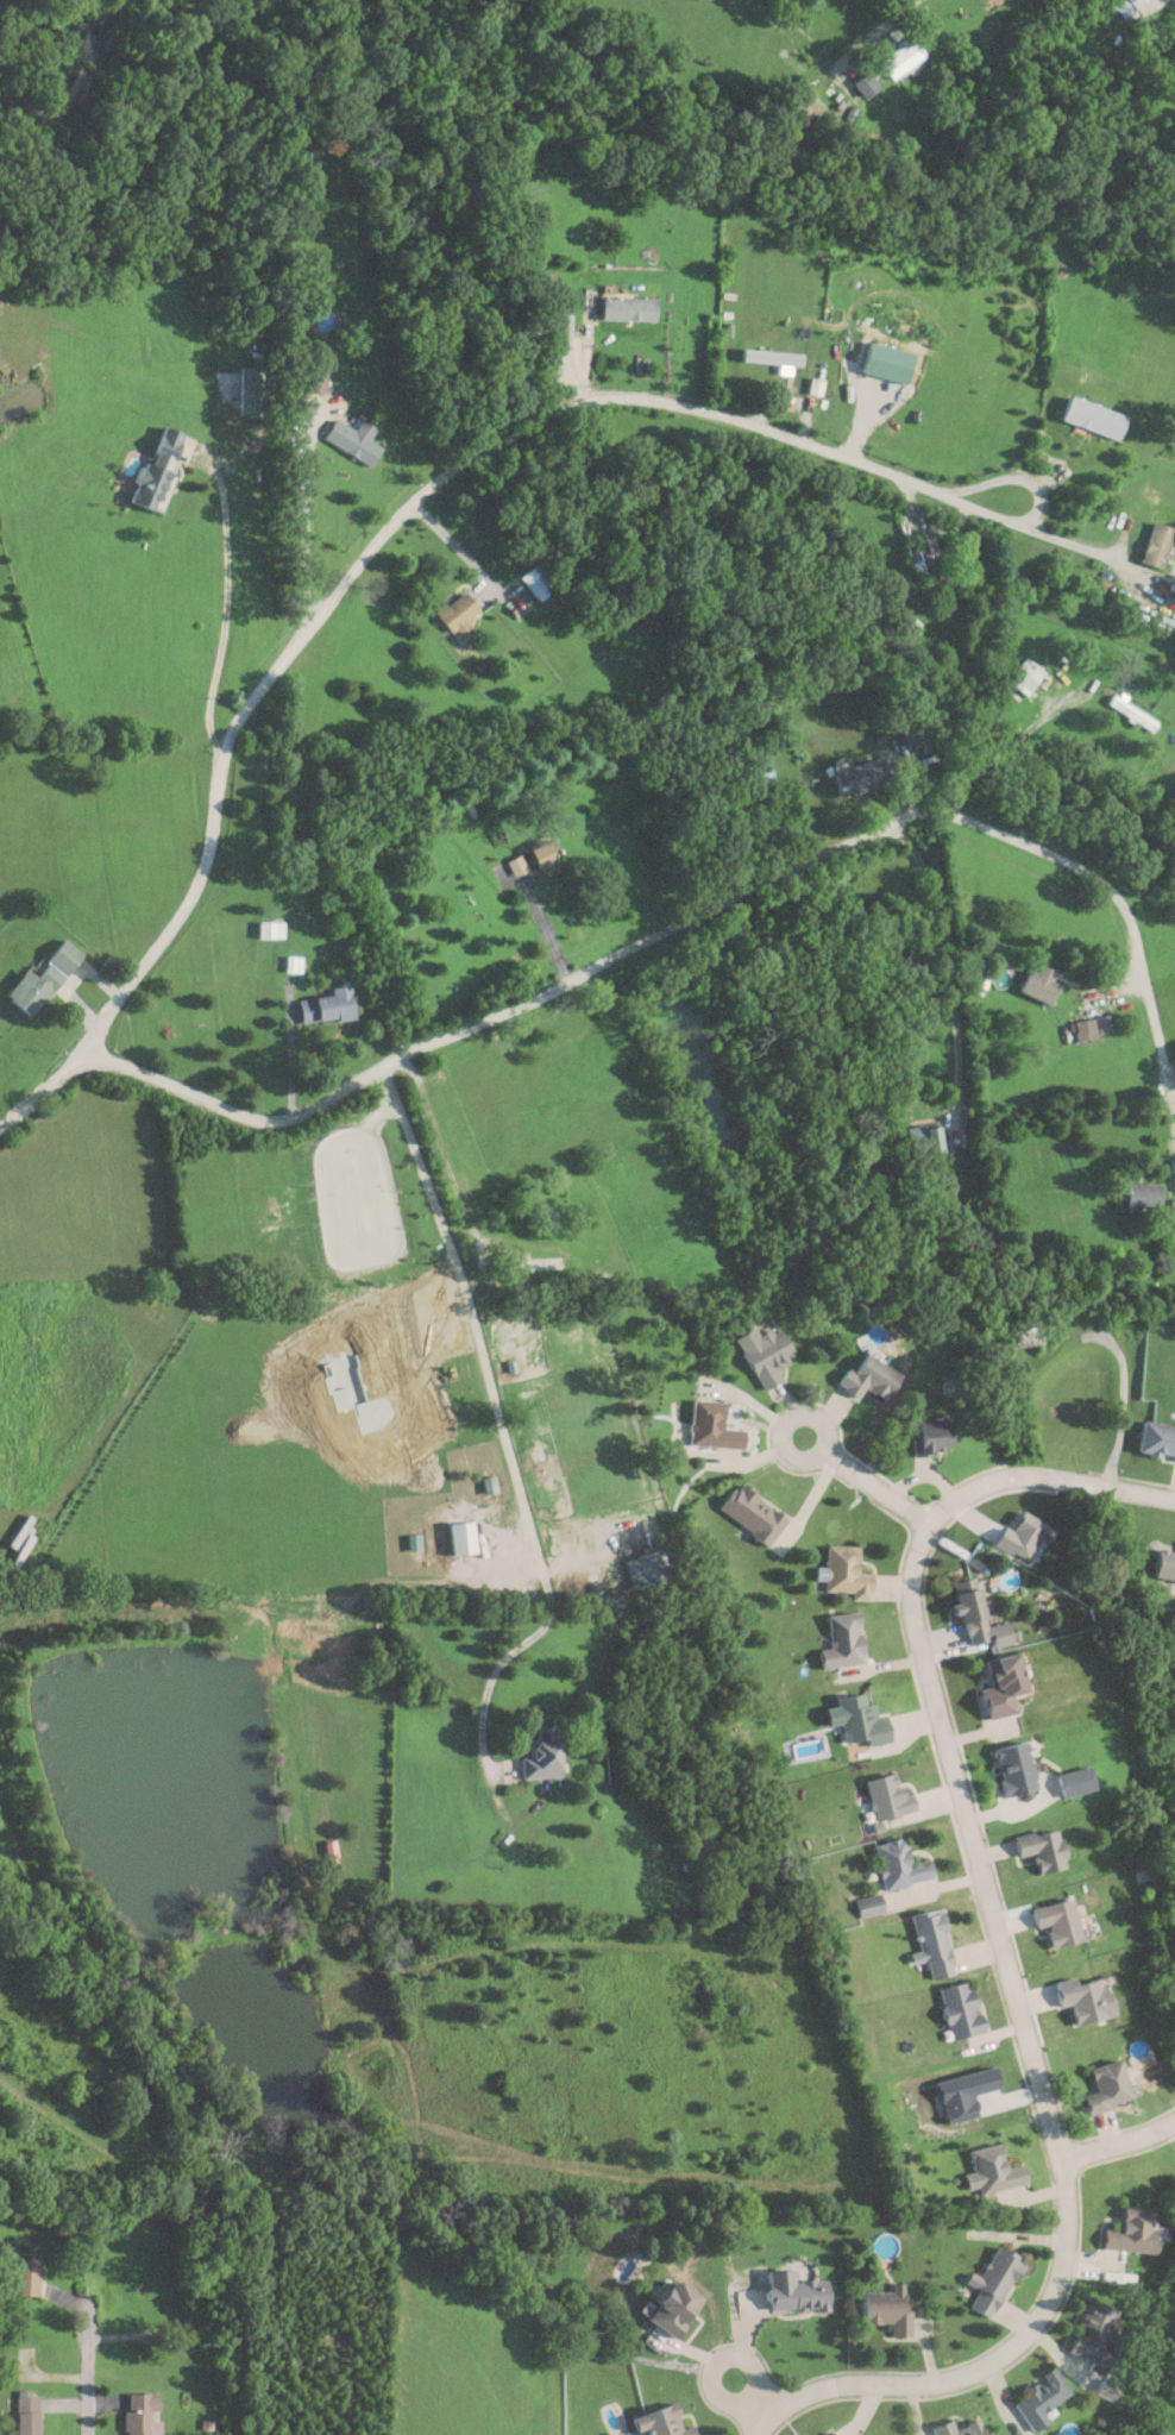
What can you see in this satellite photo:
building: (1120, 6)
road: (886, 23)
building: (899, 57)
building: (861, 83)
building: (624, 308)
building: (767, 357)
building: (313, 381)
building: (1086, 418)
road: (863, 429)
building: (350, 443)
building: (162, 466)
road: (1035, 504)
road: (304, 514)
building: (1151, 544)
road: (1080, 547)
road: (461, 552)
building: (920, 558)
road: (347, 575)
building: (534, 580)
road: (226, 608)
building: (452, 613)
building: (1020, 676)
building: (913, 732)
road: (1006, 748)
building: (755, 770)
building: (855, 777)
building: (536, 856)
road: (691, 916)
building: (271, 928)
building: (294, 961)
road: (945, 964)
building: (45, 978)
building: (1035, 984)
building: (328, 1004)
building: (918, 1140)
building: (1138, 1195)
building: (1170, 1218)
building: (539, 1262)
building: (760, 1354)
building: (863, 1377)
road: (1124, 1402)
road: (502, 1418)
road: (819, 1422)
building: (706, 1426)
building: (925, 1436)
building: (1156, 1441)
road: (879, 1486)
road: (1141, 1493)
building: (749, 1514)
building: (656, 1567)
building: (844, 1573)
building: (967, 1613)
building: (841, 1640)
building: (998, 1686)
building: (860, 1719)
building: (547, 1753)
building: (1012, 1768)
building: (1073, 1780)
building: (1038, 1847)
building: (898, 1863)
building: (868, 1908)
building: (1055, 1920)
building: (931, 1940)
road: (1019, 1987)
building: (1082, 1996)
building: (957, 2008)
building: (1105, 2085)
road: (1121, 2144)
building: (992, 2169)
building: (1129, 2229)
building: (27, 2274)
building: (989, 2280)
building: (792, 2290)
building: (670, 2307)
building: (884, 2307)
building: (1091, 2334)
road: (84, 2378)
road: (752, 2398)
building: (1036, 2398)
building: (29, 2411)
building: (142, 2411)
building: (658, 2422)
building: (954, 2428)

